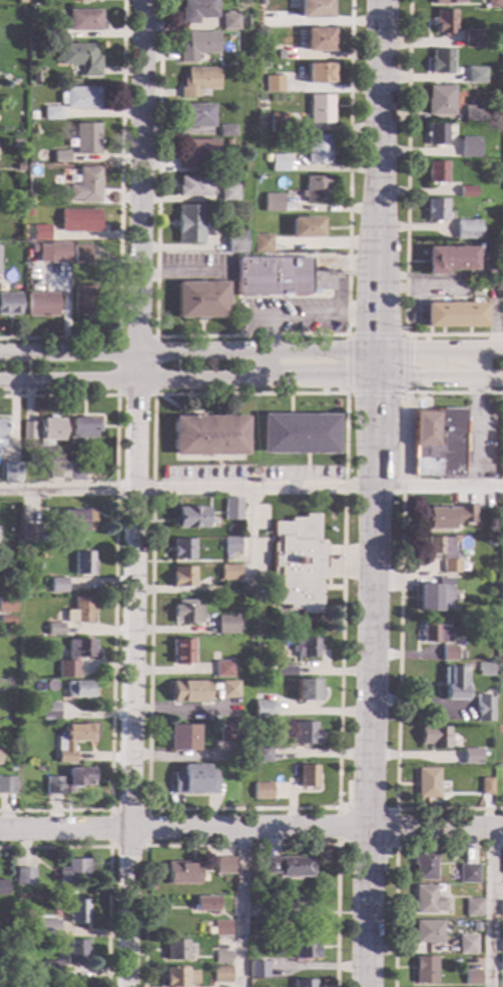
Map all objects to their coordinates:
building: (84, 0)
building: (21, 1)
building: (447, 2)
building: (494, 4)
building: (314, 9)
building: (196, 10)
building: (84, 21)
building: (228, 21)
building: (444, 21)
building: (55, 33)
building: (473, 38)
building: (319, 40)
building: (489, 44)
building: (198, 46)
building: (261, 55)
building: (80, 58)
building: (441, 61)
building: (320, 74)
building: (475, 74)
building: (466, 76)
building: (36, 77)
building: (198, 81)
building: (275, 83)
building: (80, 98)
building: (440, 100)
building: (321, 109)
building: (51, 113)
building: (471, 113)
building: (32, 115)
building: (195, 115)
building: (279, 123)
building: (226, 131)
building: (436, 134)
building: (87, 138)
building: (227, 142)
building: (15, 144)
building: (468, 146)
building: (317, 149)
building: (197, 153)
building: (460, 154)
building: (61, 157)
building: (278, 163)
building: (19, 168)
building: (435, 172)
road: (375, 181)
building: (86, 186)
building: (193, 186)
building: (315, 190)
building: (467, 191)
building: (227, 193)
building: (29, 199)
building: (271, 202)
building: (435, 209)
building: (16, 213)
road: (406, 216)
building: (79, 221)
building: (189, 223)
road: (119, 227)
building: (304, 227)
building: (463, 228)
building: (40, 233)
building: (234, 242)
building: (261, 243)
building: (50, 252)
building: (81, 255)
building: (29, 259)
building: (448, 260)
building: (61, 271)
building: (280, 276)
building: (6, 279)
road: (331, 297)
building: (84, 299)
building: (200, 300)
building: (9, 304)
building: (41, 305)
road: (326, 315)
building: (454, 315)
road: (258, 316)
traffic signals: (373, 331)
traffic signals: (373, 335)
road: (404, 335)
road: (249, 336)
road: (118, 337)
road: (264, 345)
traffic signals: (346, 349)
traffic signals: (404, 349)
traffic signals: (412, 349)
road: (251, 351)
road: (373, 369)
traffic signals: (404, 376)
road: (438, 376)
road: (317, 377)
traffic signals: (343, 377)
traffic signals: (346, 377)
road: (131, 380)
traffic signals: (372, 393)
traffic signals: (372, 398)
road: (474, 418)
building: (86, 428)
building: (2, 430)
building: (45, 431)
building: (299, 434)
building: (209, 435)
building: (437, 443)
building: (502, 444)
building: (502, 466)
building: (58, 470)
building: (254, 471)
building: (12, 472)
building: (76, 472)
road: (251, 489)
road: (134, 493)
building: (501, 505)
building: (232, 509)
building: (447, 517)
building: (190, 518)
building: (77, 521)
road: (249, 531)
building: (29, 534)
building: (231, 545)
building: (489, 545)
building: (183, 549)
building: (443, 553)
building: (83, 564)
building: (298, 564)
building: (229, 573)
building: (183, 577)
building: (58, 586)
building: (435, 595)
road: (114, 599)
road: (400, 604)
building: (6, 605)
building: (80, 611)
building: (186, 613)
building: (7, 621)
building: (227, 625)
building: (55, 630)
building: (434, 634)
building: (306, 648)
building: (182, 652)
building: (449, 654)
building: (74, 655)
building: (502, 657)
building: (270, 668)
building: (223, 669)
building: (485, 670)
building: (286, 671)
road: (369, 681)
building: (453, 683)
building: (79, 690)
building: (229, 690)
building: (306, 690)
building: (189, 692)
building: (483, 709)
building: (263, 710)
building: (50, 711)
building: (228, 732)
building: (305, 734)
building: (435, 737)
building: (182, 738)
building: (71, 742)
building: (261, 754)
building: (471, 757)
building: (39, 768)
building: (308, 776)
building: (69, 781)
building: (194, 781)
building: (428, 783)
building: (7, 786)
building: (487, 787)
building: (262, 791)
road: (340, 807)
road: (251, 829)
road: (243, 845)
road: (396, 845)
road: (147, 846)
road: (109, 862)
road: (395, 863)
building: (424, 865)
building: (502, 865)
building: (226, 866)
building: (290, 867)
building: (74, 871)
building: (182, 874)
building: (469, 874)
building: (25, 877)
building: (4, 888)
building: (253, 890)
building: (428, 901)
building: (263, 904)
building: (206, 905)
building: (293, 907)
building: (473, 907)
road: (490, 907)
road: (240, 908)
building: (501, 909)
building: (78, 912)
building: (475, 924)
building: (48, 928)
building: (222, 929)
building: (428, 932)
building: (466, 945)
building: (501, 947)
building: (305, 949)
building: (178, 950)
building: (76, 952)
building: (5, 954)
building: (223, 957)
building: (502, 963)
building: (18, 965)
building: (50, 970)
building: (258, 970)
building: (425, 970)
building: (222, 975)
building: (180, 977)
building: (472, 978)
building: (72, 984)
building: (304, 984)

